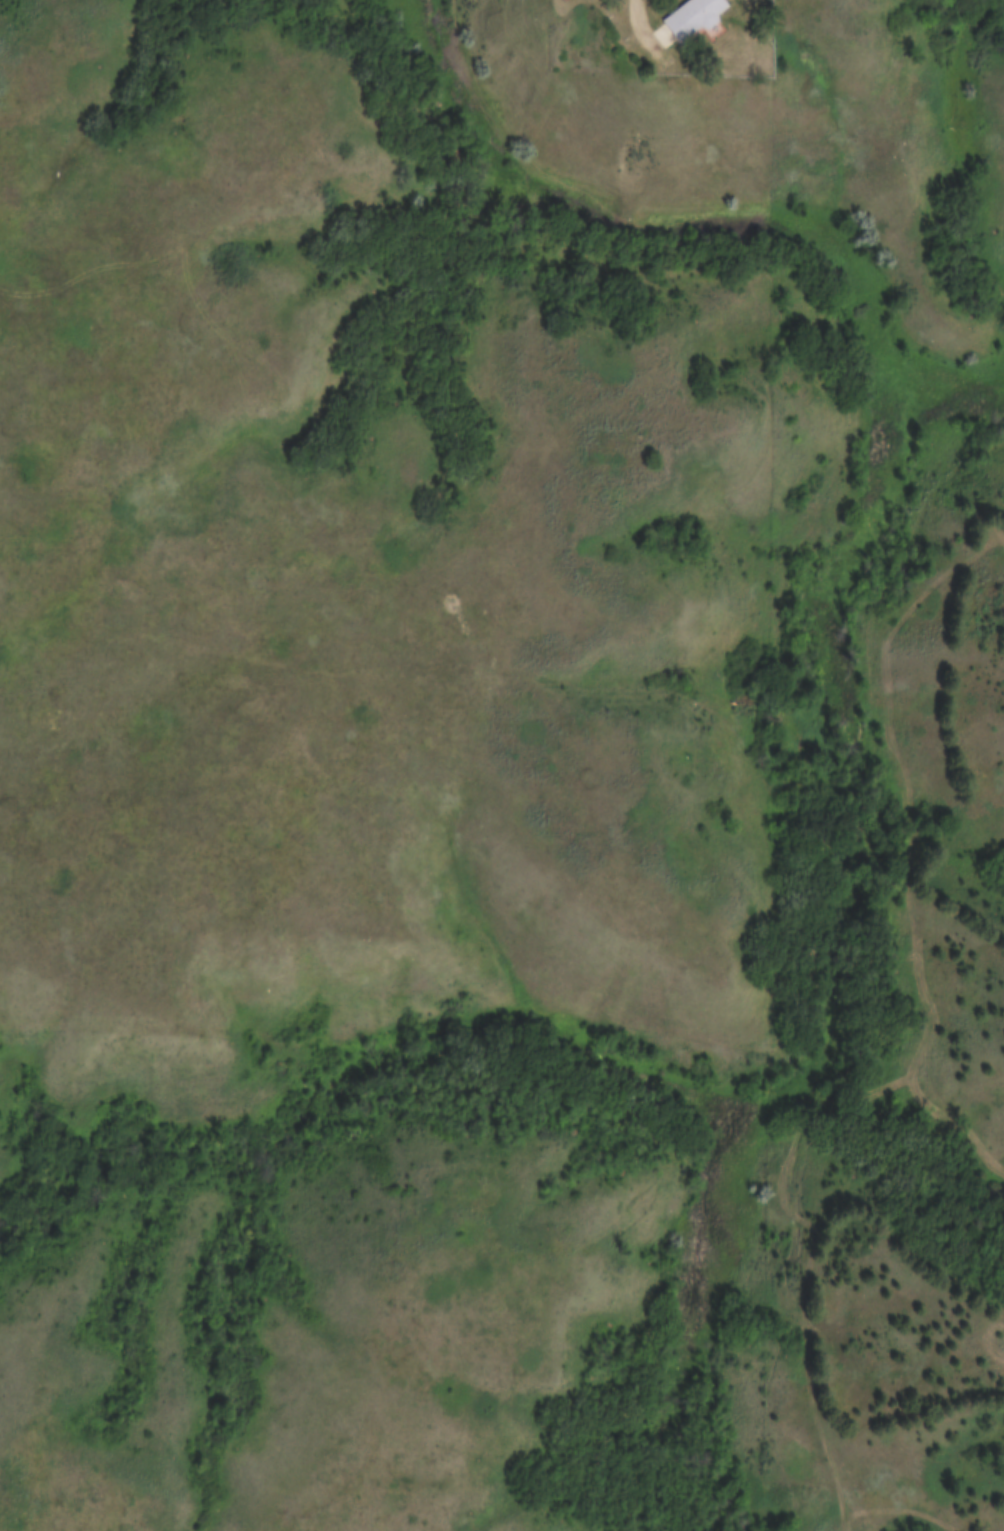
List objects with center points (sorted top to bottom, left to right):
building: (561, 0)
building: (695, 17)
road: (648, 28)

